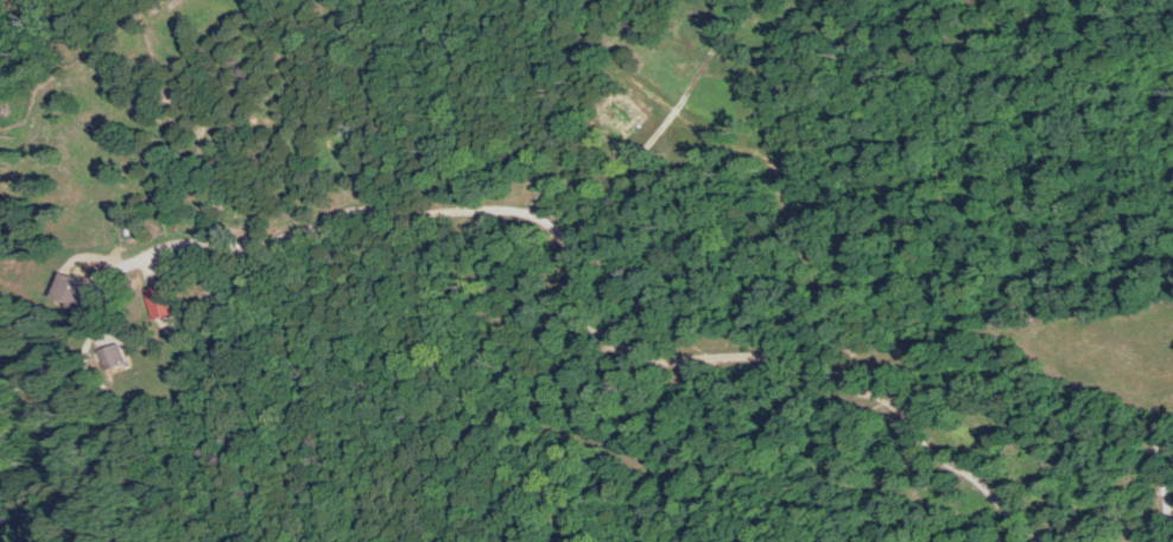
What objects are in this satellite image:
road: (133, 268)

